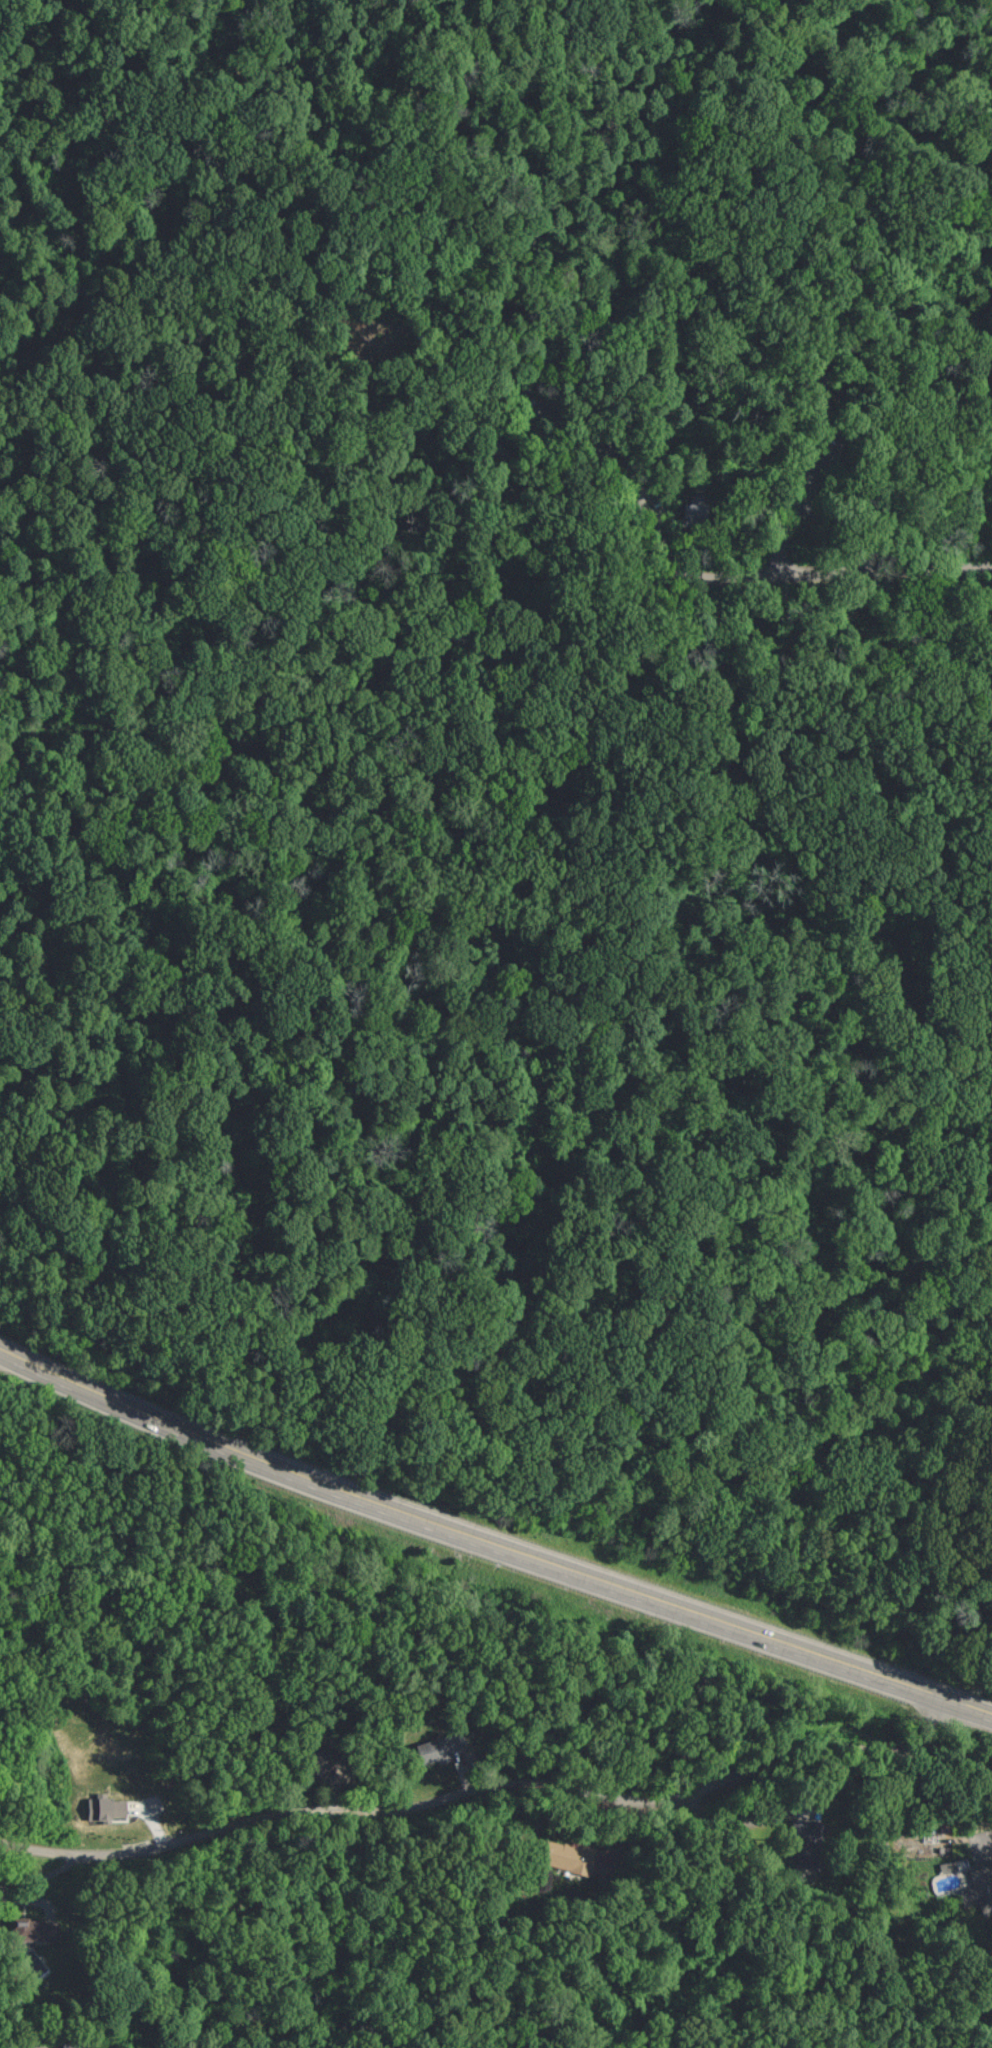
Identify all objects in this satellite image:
road: (429, 88)
building: (437, 199)
building: (381, 202)
road: (416, 213)
building: (360, 250)
building: (449, 287)
building: (366, 299)
building: (536, 357)
building: (817, 373)
building: (582, 387)
building: (485, 402)
building: (622, 418)
building: (537, 446)
building: (660, 448)
building: (497, 451)
parking lot: (810, 473)
building: (612, 501)
road: (799, 503)
building: (699, 513)
road: (741, 523)
road: (666, 537)
road: (219, 990)
road: (896, 1217)
road: (491, 1546)
building: (446, 1749)
road: (490, 1791)
building: (107, 1808)
building: (806, 1828)
road: (990, 1843)
building: (567, 1856)
building: (807, 1859)
building: (979, 1887)
building: (31, 1929)
building: (35, 1962)
building: (72, 2047)

